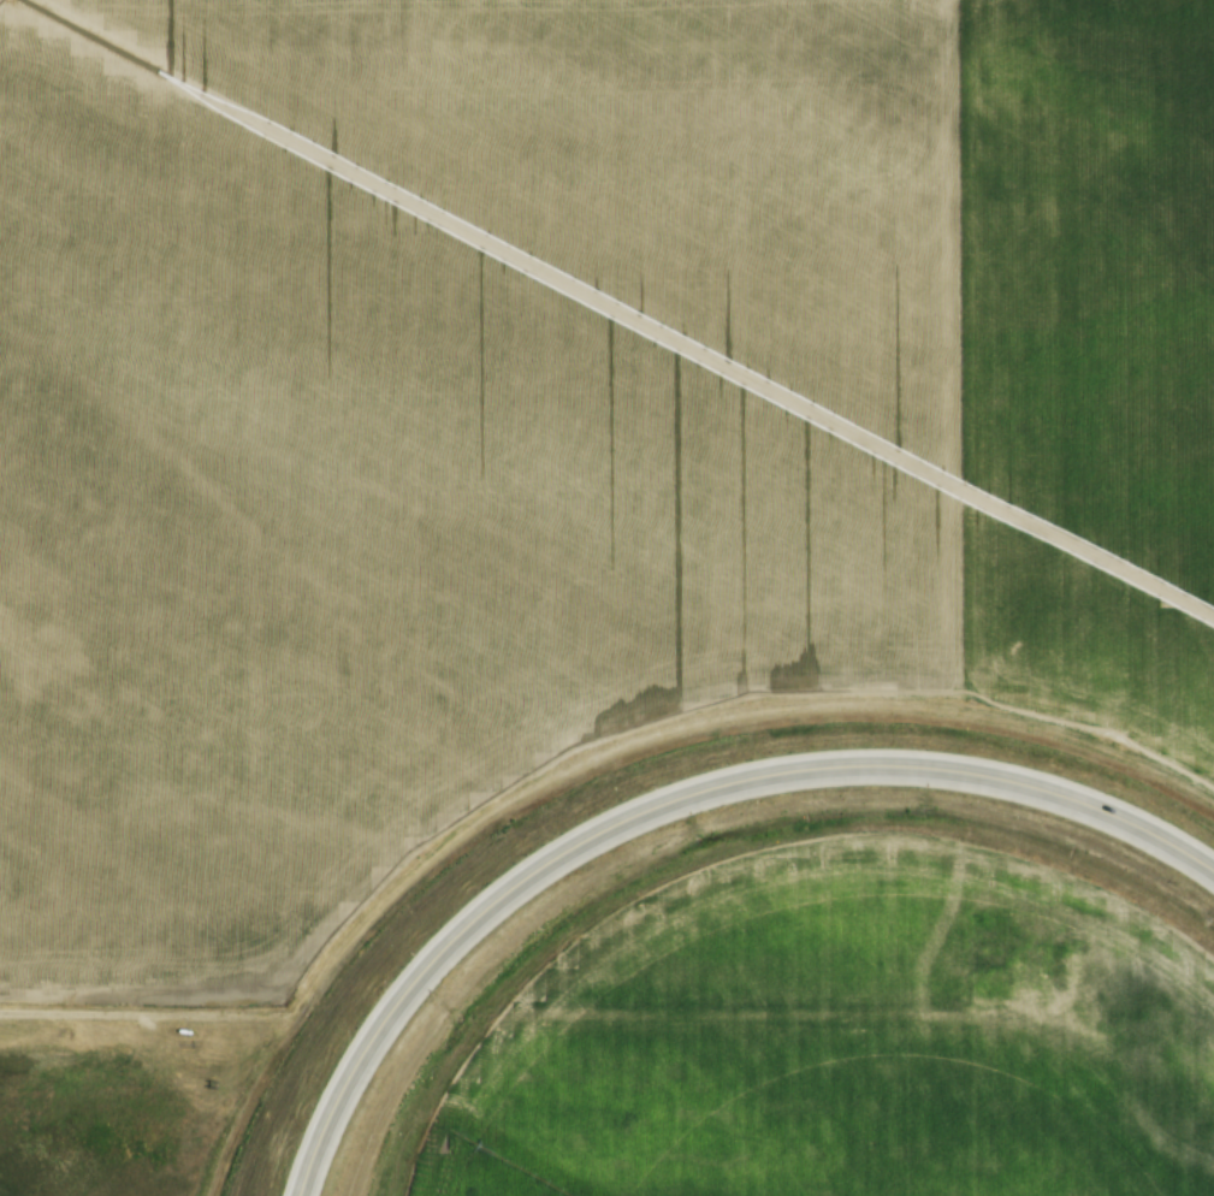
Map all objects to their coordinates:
road: (673, 800)
building: (1071, 959)

